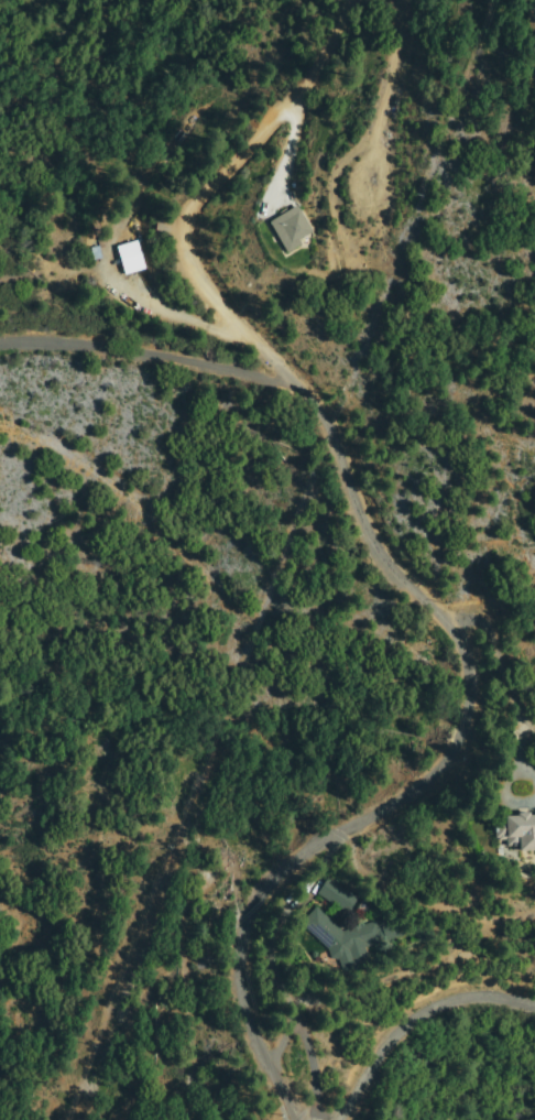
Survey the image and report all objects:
building: (293, 226)
building: (131, 258)
road: (145, 356)
road: (379, 573)
building: (518, 831)
building: (338, 895)
building: (354, 936)
road: (407, 1016)

